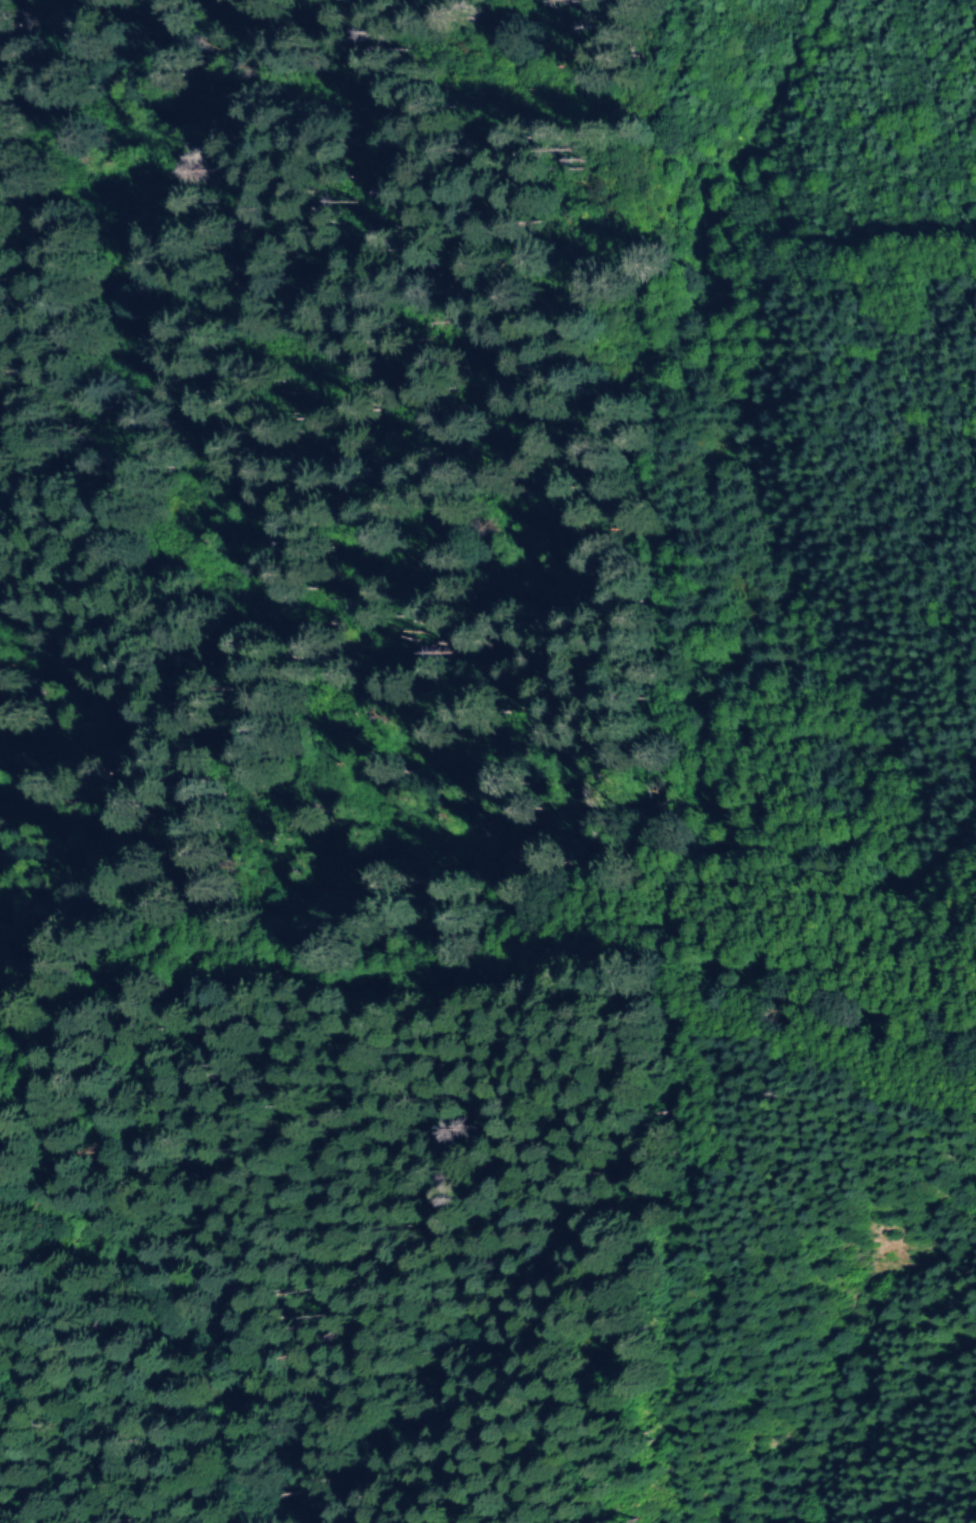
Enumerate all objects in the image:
road: (483, 928)

